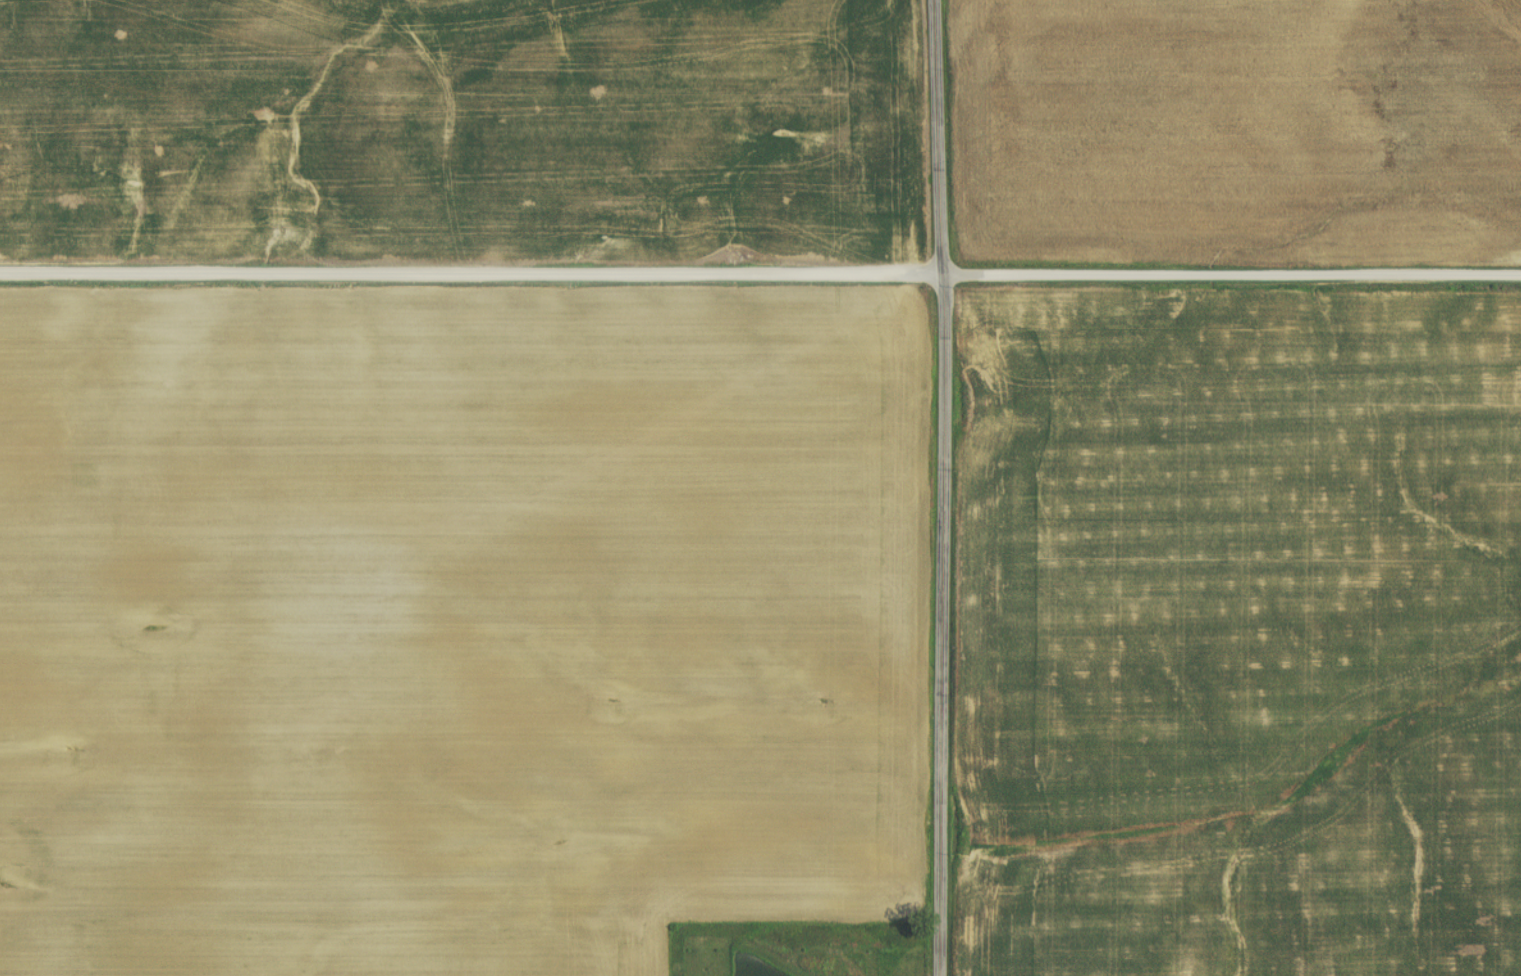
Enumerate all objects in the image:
road: (760, 276)
road: (947, 487)

